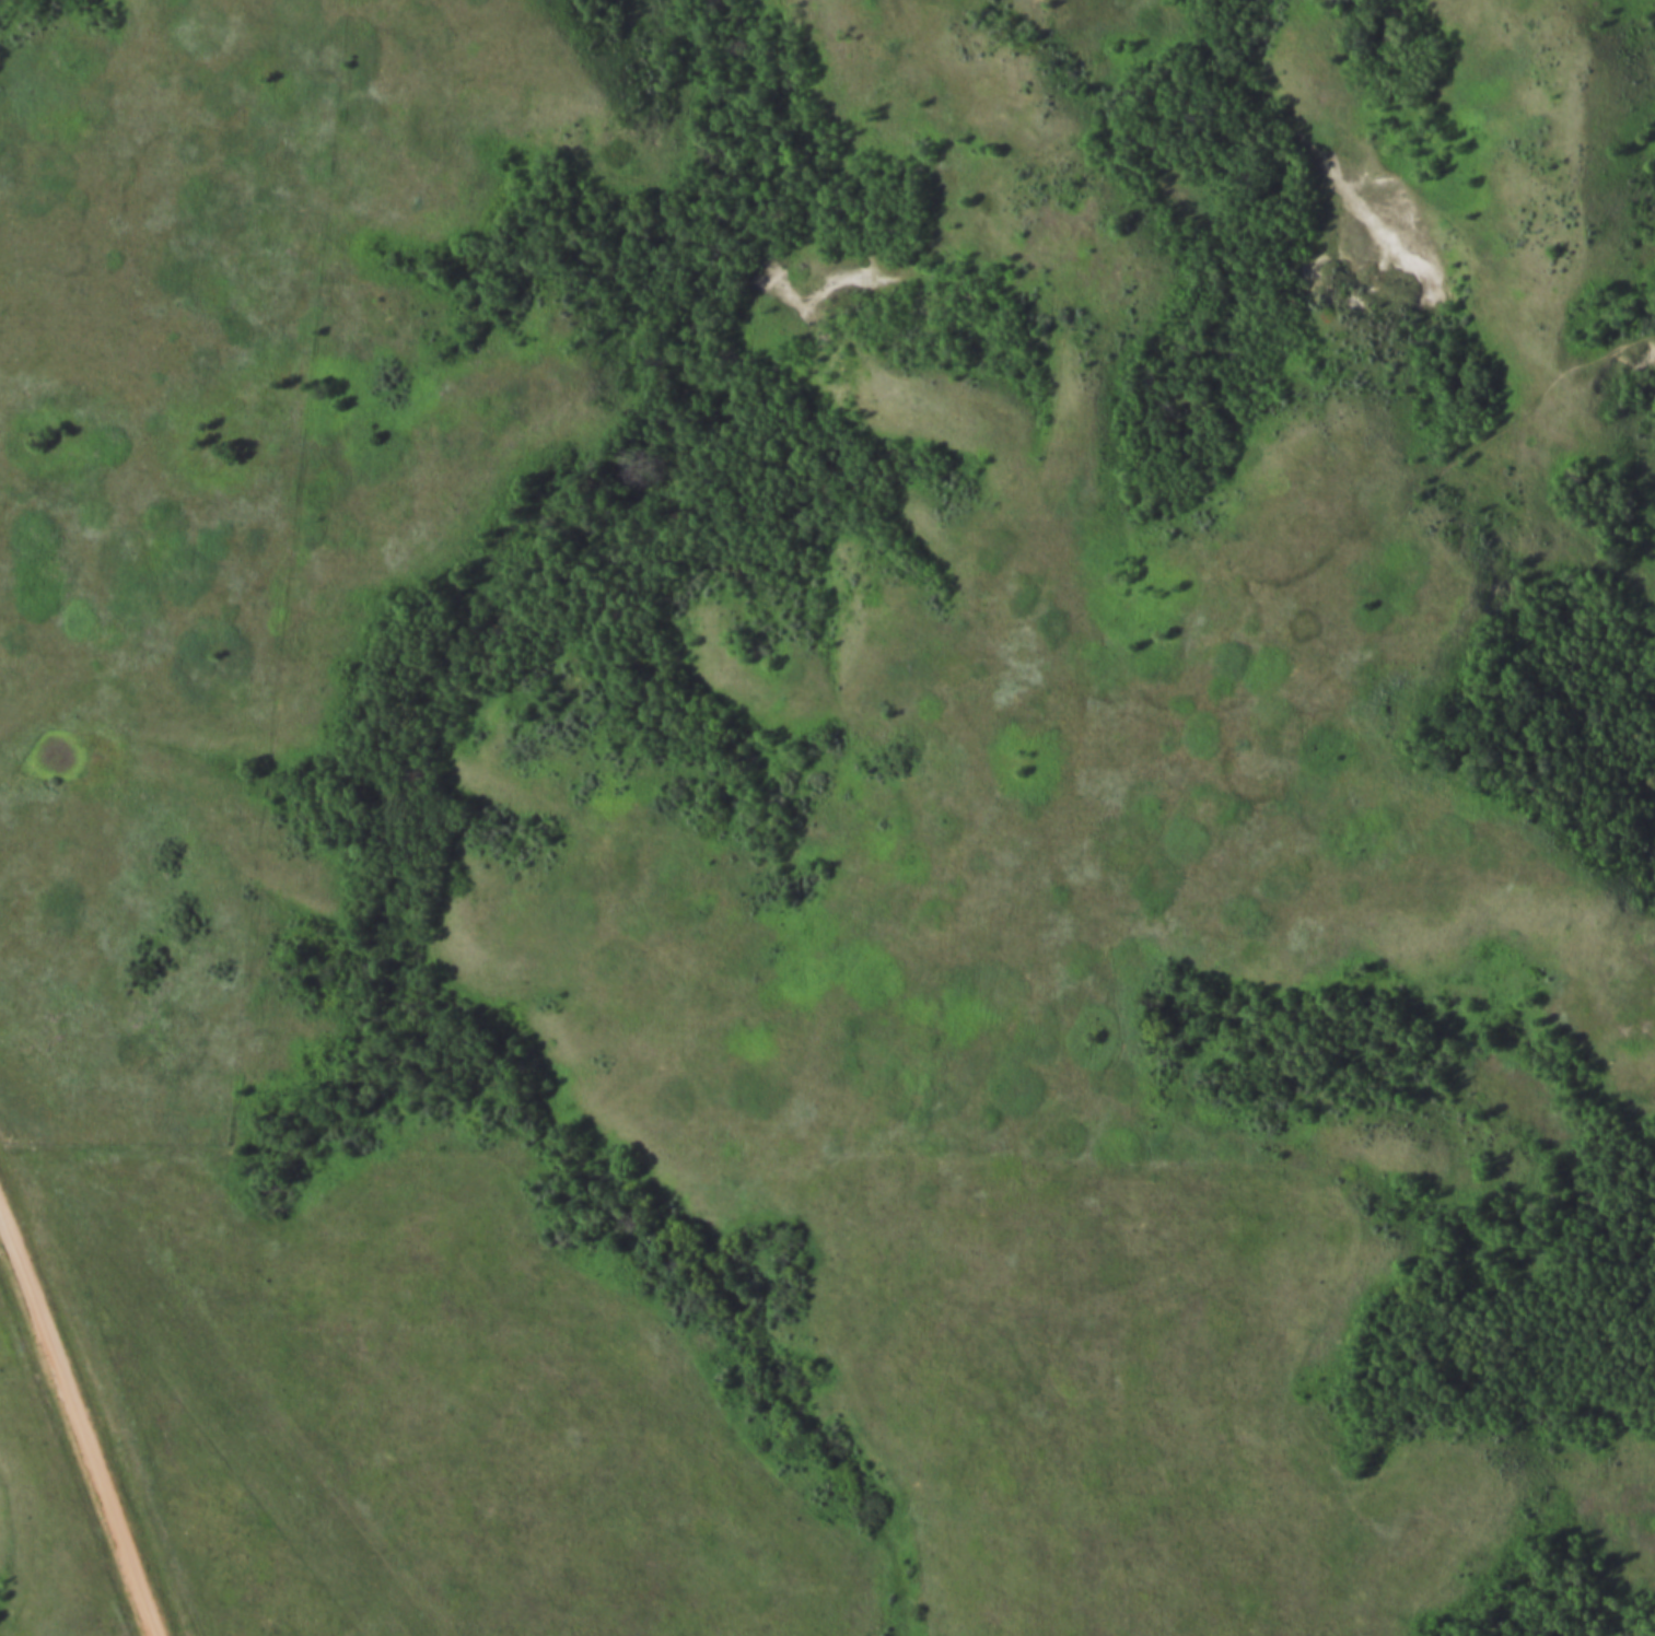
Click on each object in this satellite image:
road: (136, 1386)

